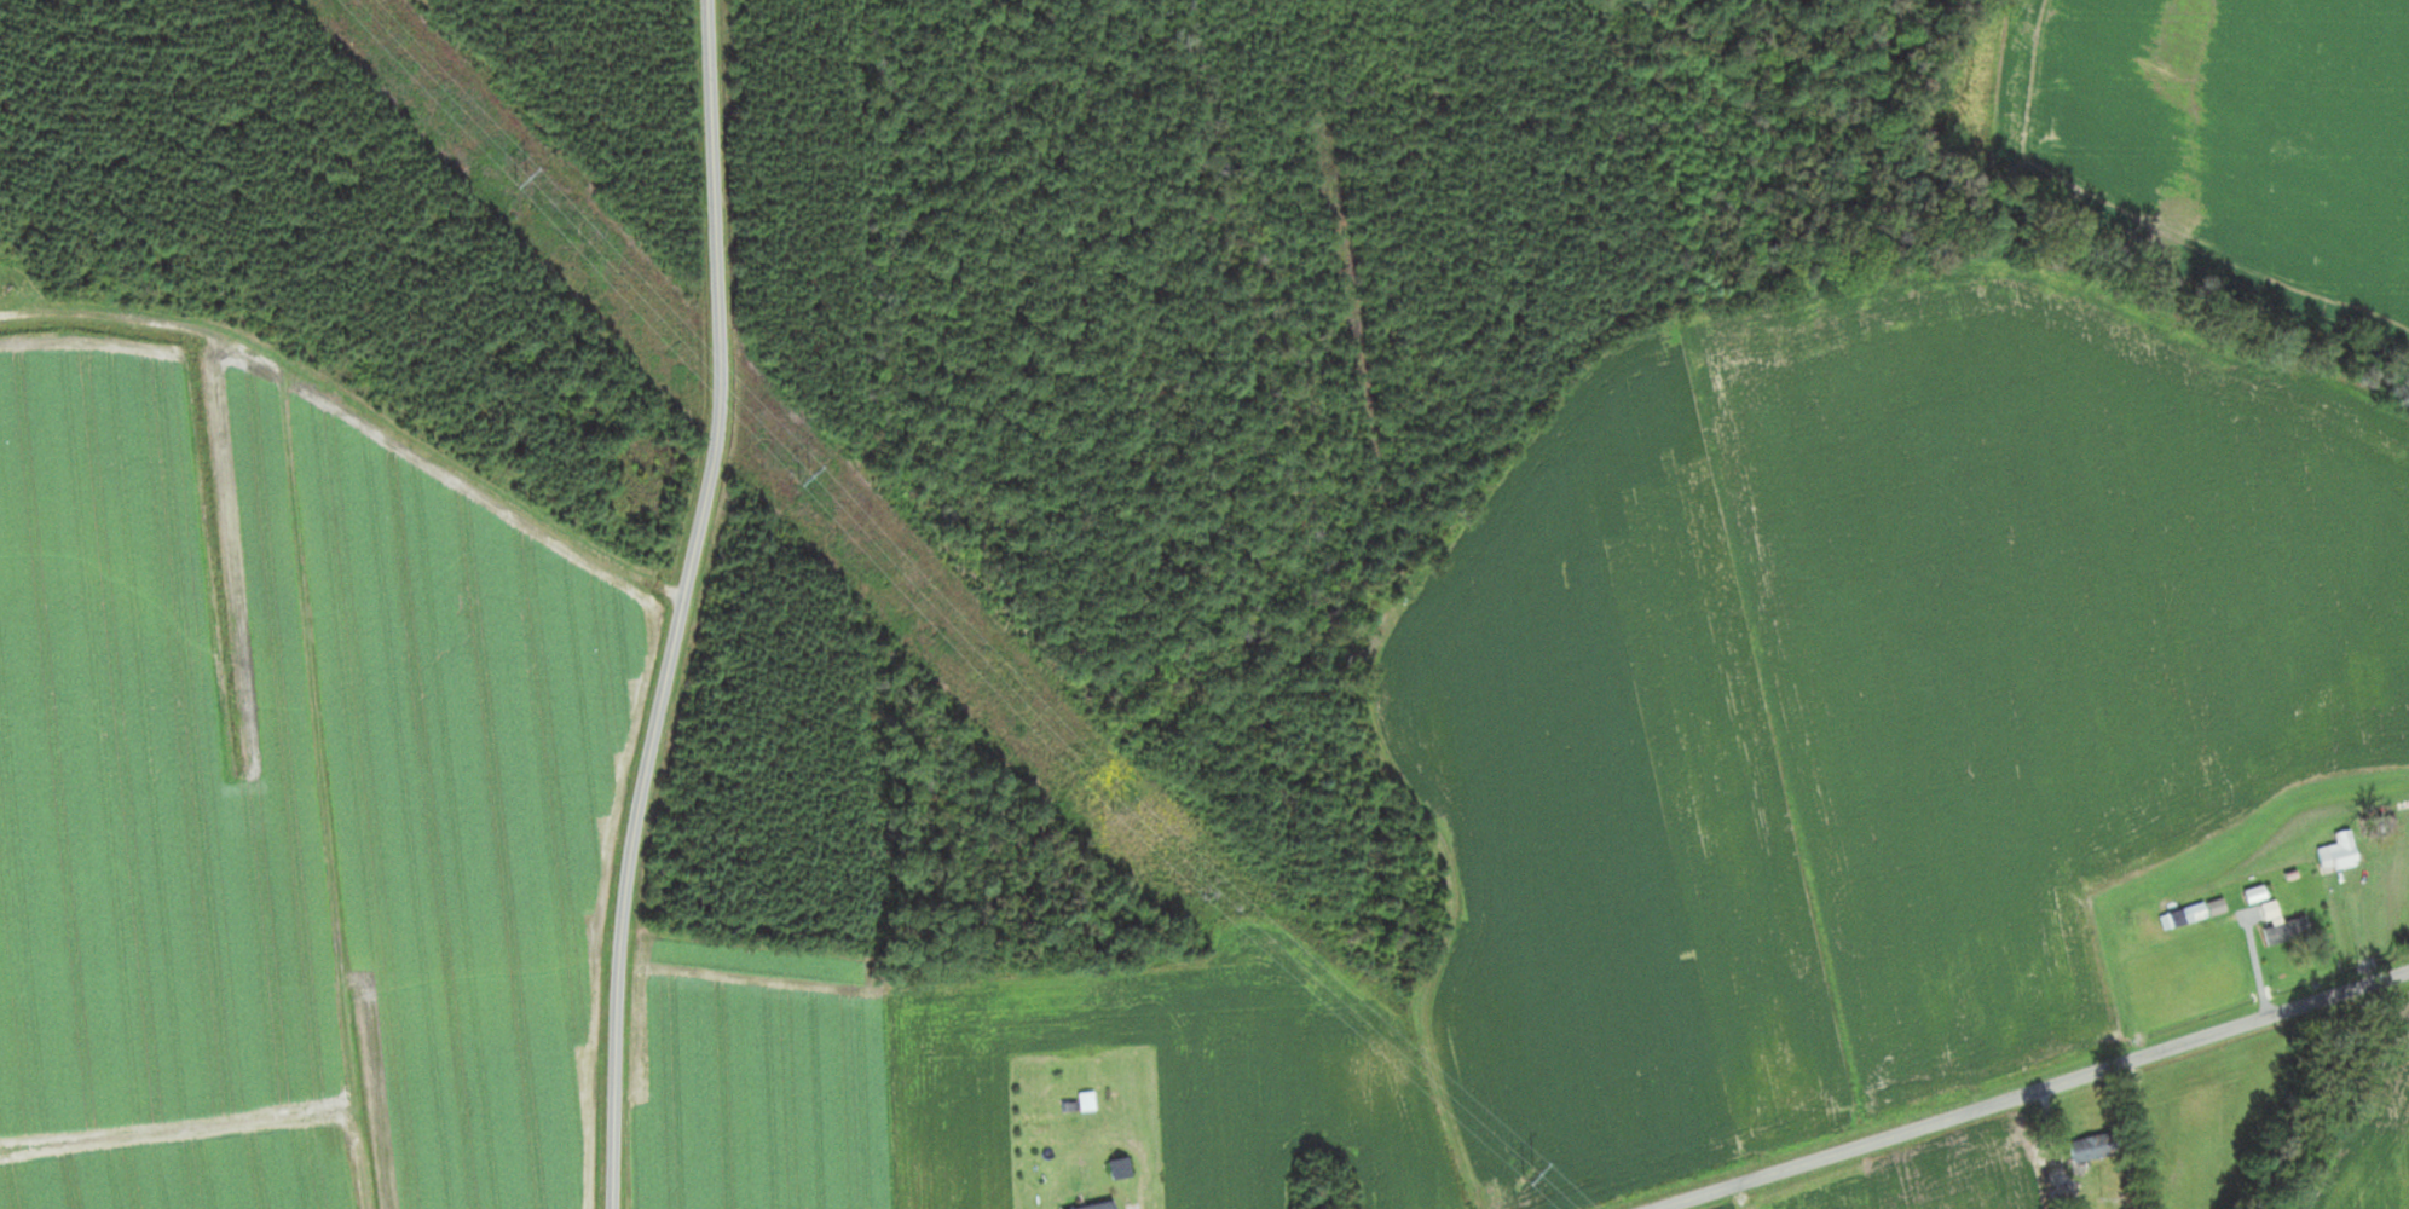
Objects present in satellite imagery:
power tower: (524, 180)
road: (368, 339)
power tower: (809, 474)
road: (680, 604)
power tower: (1133, 808)
building: (2341, 852)
building: (2200, 910)
building: (2289, 931)
road: (2034, 1092)
building: (2091, 1147)
power tower: (1531, 1174)
road: (1121, 1201)
building: (1100, 1205)

